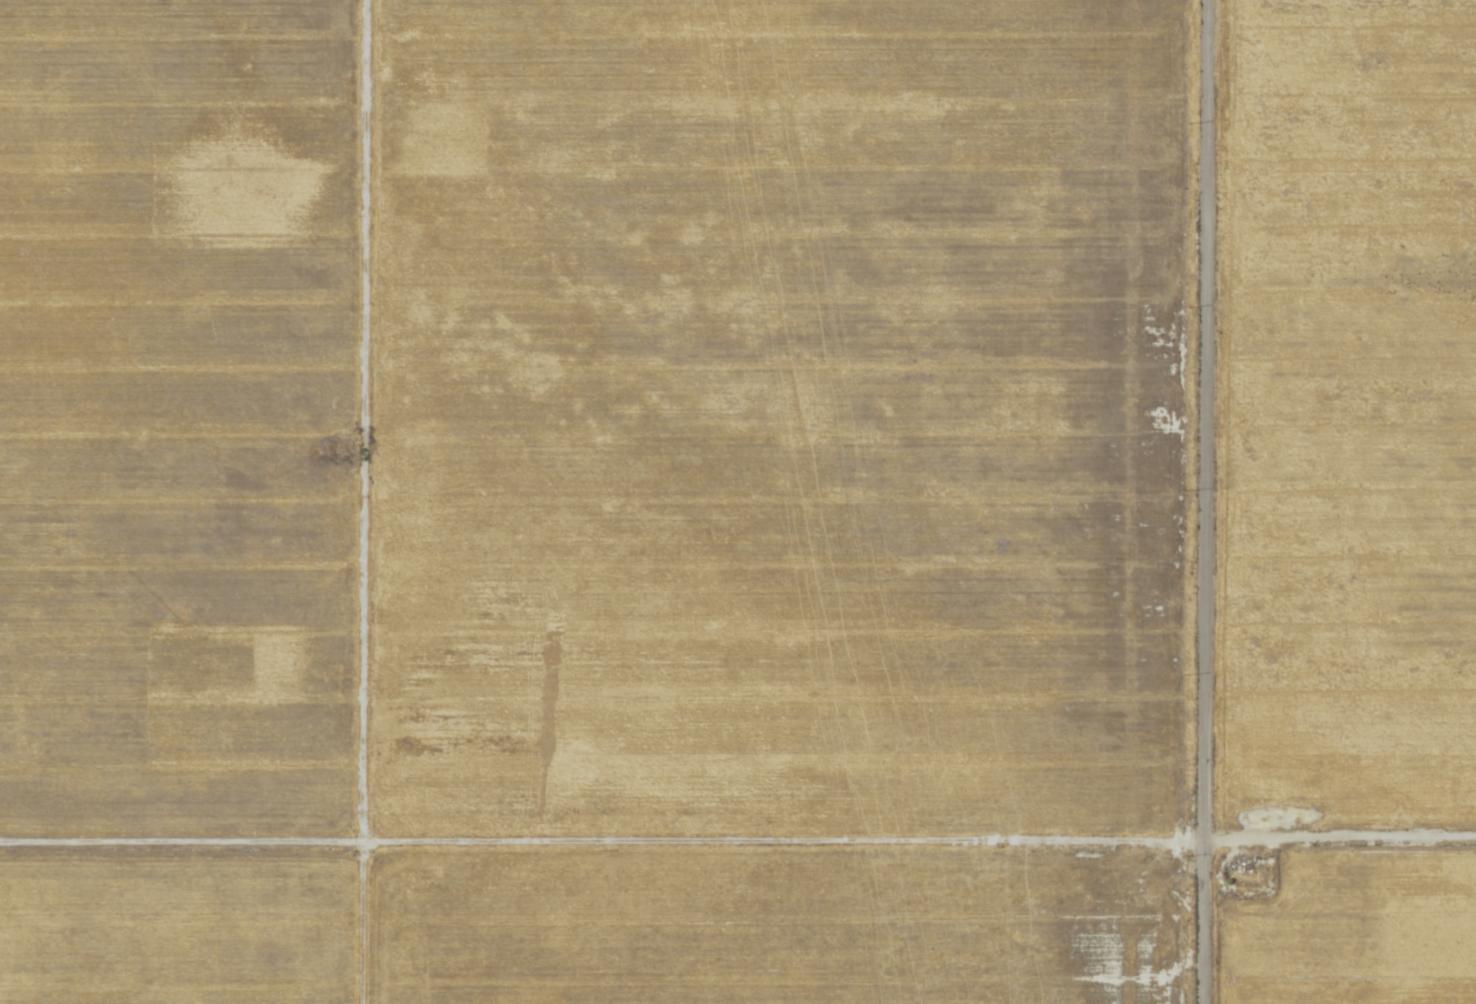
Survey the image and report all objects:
crop: (1022, 389)
crop: (1342, 418)
crop: (177, 419)
crop: (571, 449)
road: (361, 501)
road: (1201, 501)
railway: (818, 502)
railway: (828, 502)
road: (1207, 844)
road: (423, 846)
crop: (1080, 919)
crop: (177, 927)
crop: (615, 928)
crop: (1354, 932)

